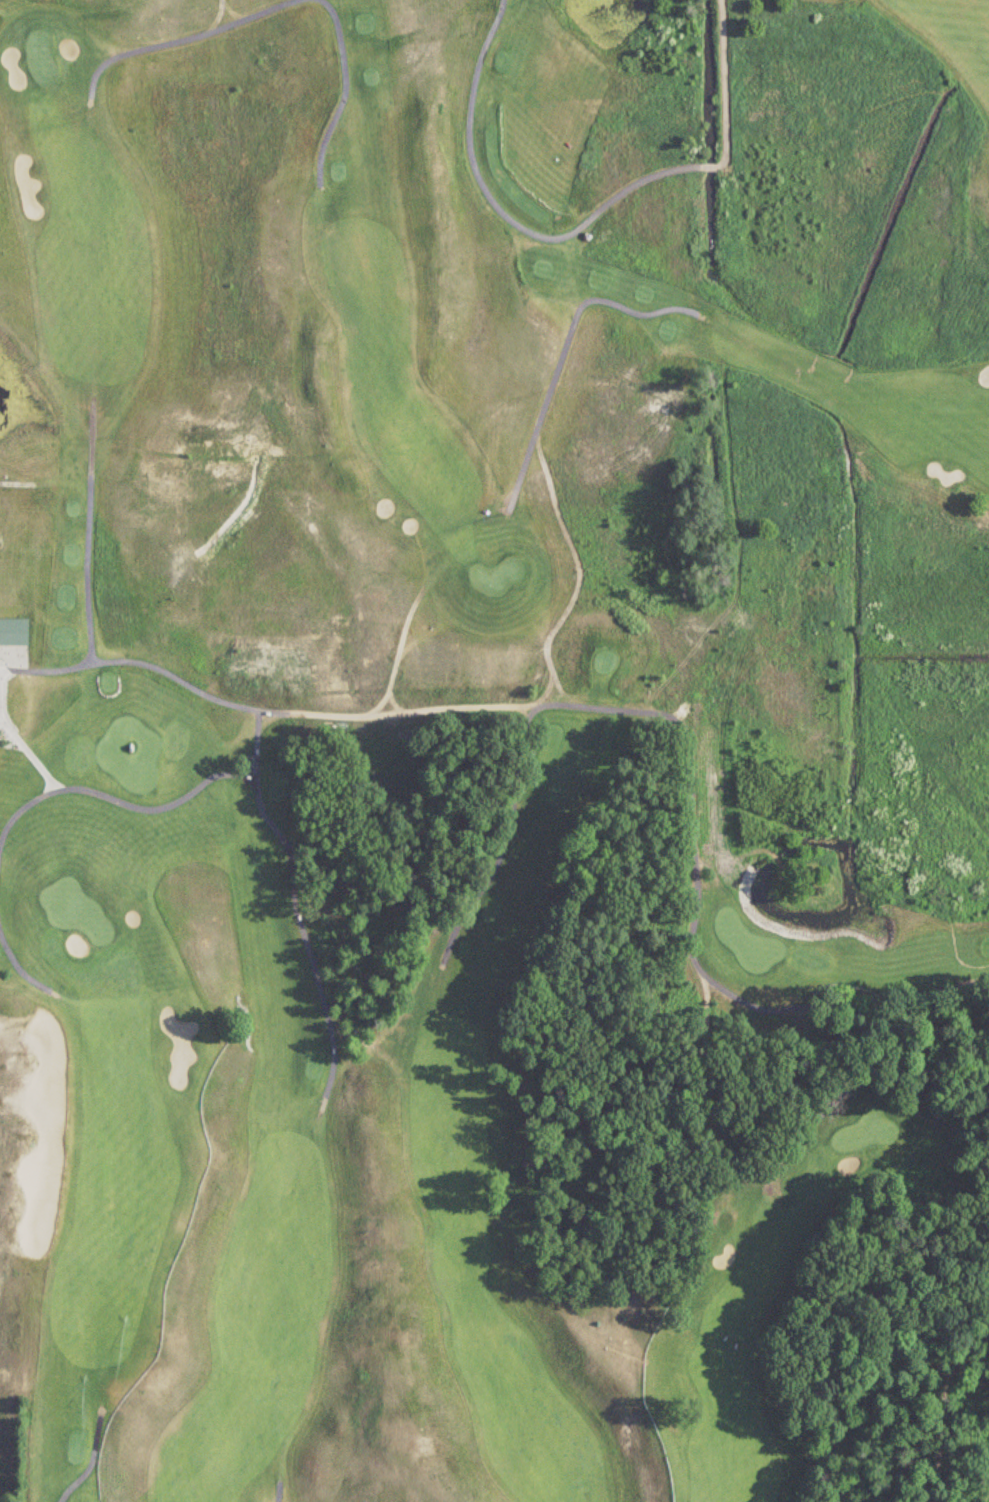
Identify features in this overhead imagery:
building: (1, 1101)

